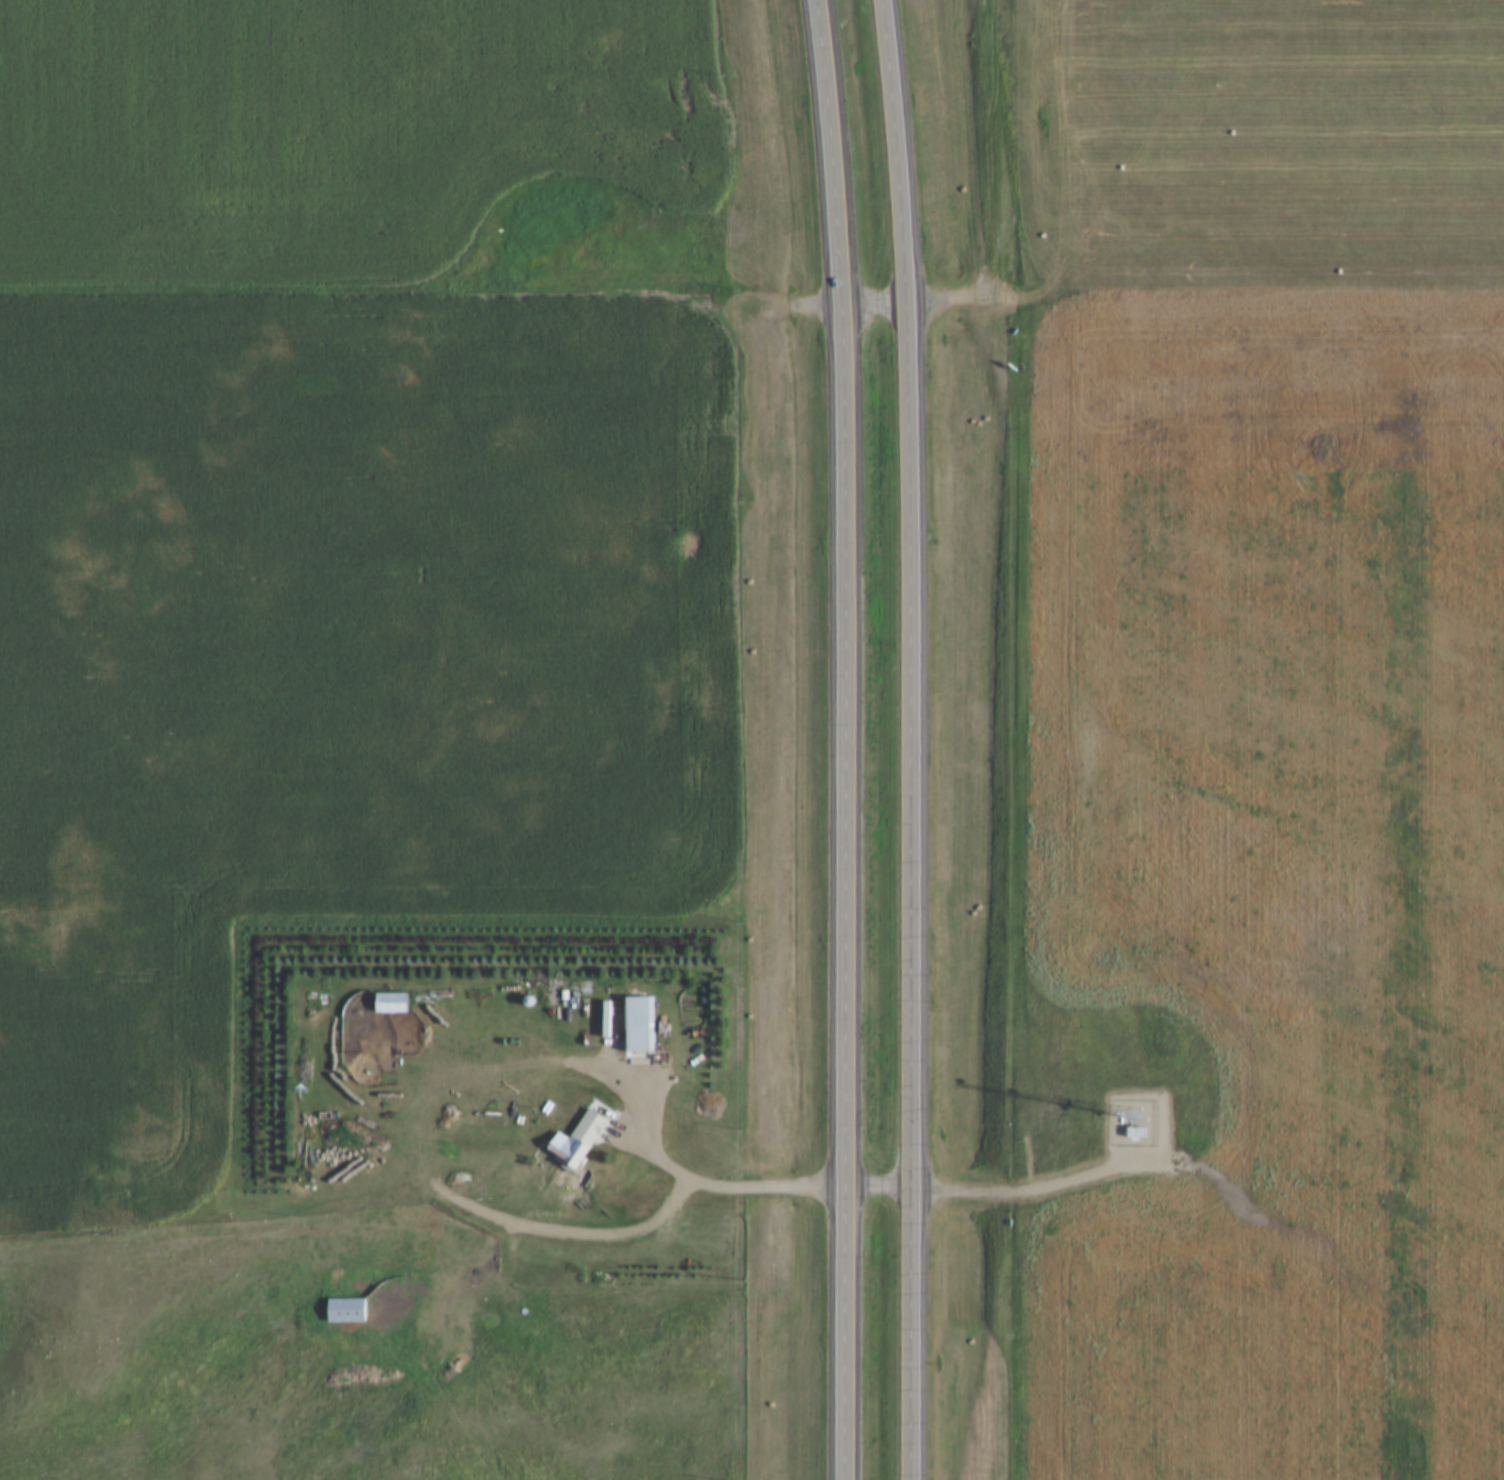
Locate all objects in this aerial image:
road: (966, 304)
road: (875, 305)
road: (756, 713)
road: (846, 739)
road: (908, 739)
building: (530, 1002)
silo: (530, 1002)
building: (395, 1004)
building: (609, 1019)
building: (639, 1025)
building: (1139, 1133)
building: (582, 1142)
road: (679, 1171)
road: (880, 1188)
road: (1036, 1189)
road: (570, 1233)
building: (350, 1311)

